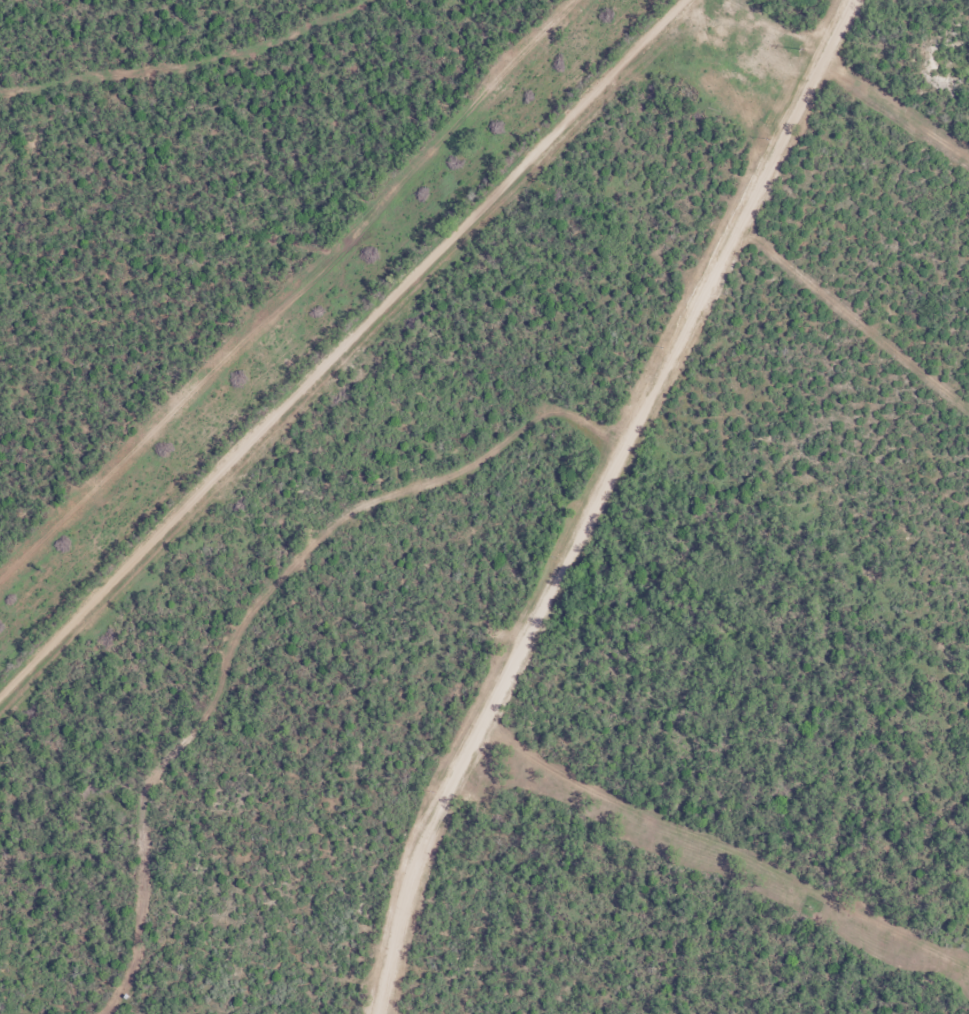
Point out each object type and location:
power tower: (802, 47)
road: (362, 360)
road: (614, 503)

